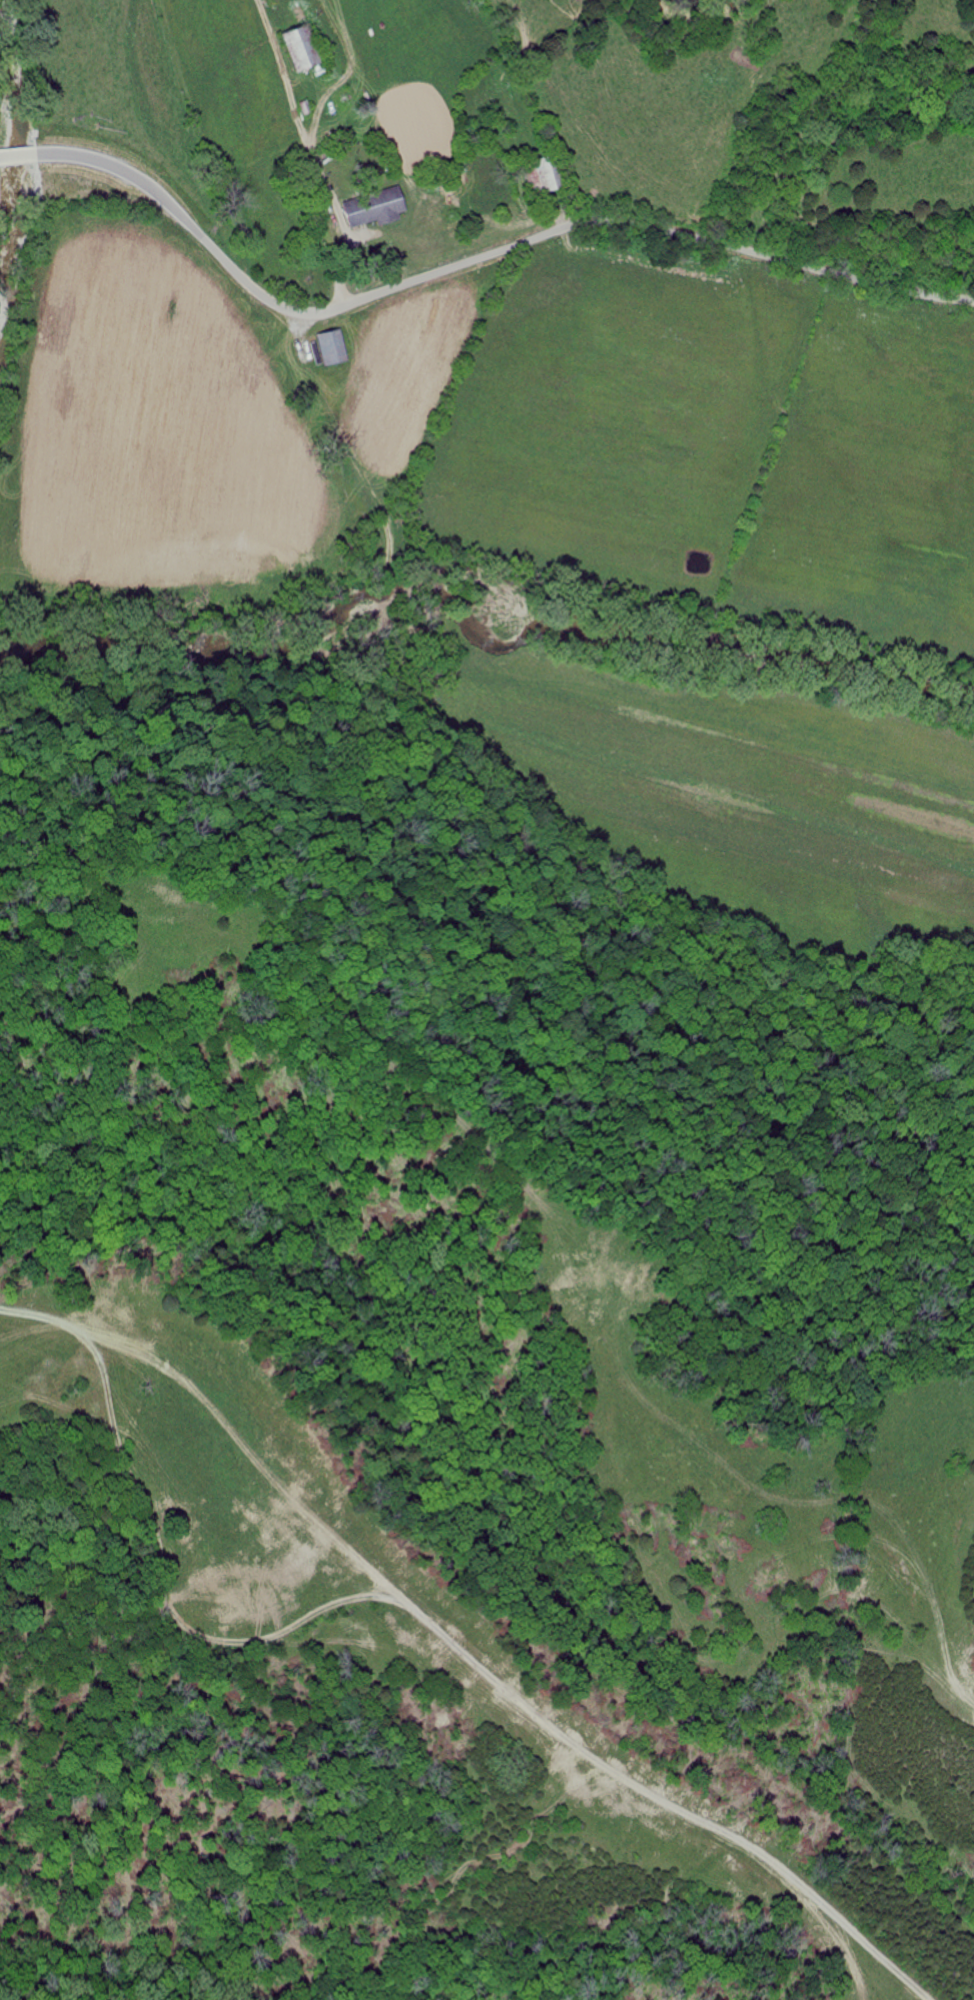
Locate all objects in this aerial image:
building: (296, 46)
road: (19, 156)
building: (371, 208)
road: (481, 259)
building: (330, 346)

